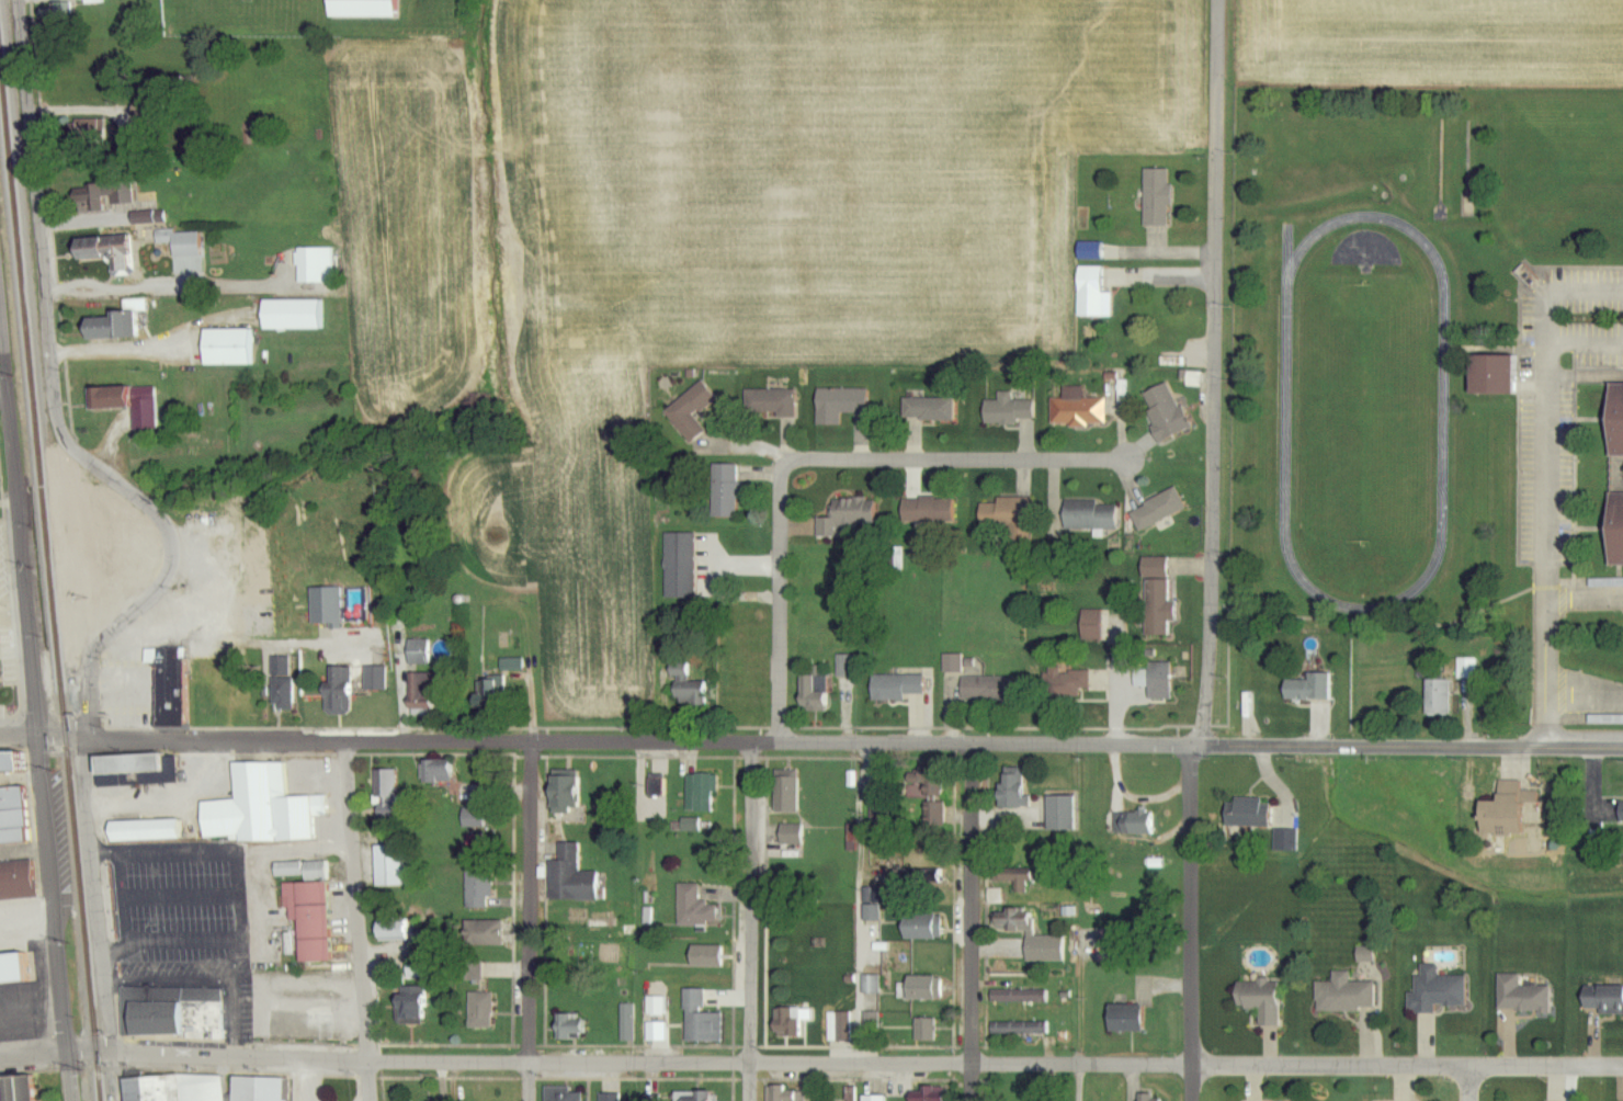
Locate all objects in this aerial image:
building: (357, 9)
building: (54, 15)
building: (120, 191)
building: (1156, 198)
building: (181, 245)
building: (120, 257)
building: (313, 266)
building: (1128, 280)
building: (1090, 295)
building: (1125, 325)
building: (114, 326)
building: (225, 348)
road: (1218, 371)
building: (1488, 375)
road: (3, 391)
building: (105, 397)
building: (837, 405)
road: (63, 406)
building: (1075, 408)
building: (1009, 410)
building: (1161, 413)
track: (1443, 415)
building: (1614, 421)
road: (972, 457)
road: (1548, 484)
building: (723, 496)
building: (1156, 510)
building: (1003, 513)
building: (843, 517)
building: (1089, 518)
building: (1613, 530)
building: (679, 566)
road: (780, 587)
building: (1156, 600)
railway: (49, 602)
building: (1089, 627)
road: (229, 640)
building: (418, 652)
building: (952, 663)
building: (844, 666)
building: (1157, 681)
building: (684, 685)
building: (339, 688)
building: (896, 688)
building: (988, 689)
building: (1306, 689)
building: (493, 691)
building: (225, 692)
building: (421, 694)
building: (280, 695)
road: (36, 704)
building: (167, 708)
road: (45, 734)
road: (781, 739)
road: (1546, 745)
building: (20, 761)
building: (137, 768)
building: (435, 775)
building: (1009, 788)
building: (556, 792)
building: (918, 792)
building: (700, 794)
building: (866, 805)
building: (259, 808)
building: (1620, 808)
building: (474, 810)
building: (1498, 811)
building: (1246, 814)
building: (1059, 815)
building: (15, 816)
building: (688, 826)
road: (296, 850)
building: (563, 852)
building: (387, 865)
building: (299, 870)
building: (1011, 873)
building: (565, 875)
building: (21, 881)
road: (238, 882)
building: (478, 888)
building: (994, 897)
building: (689, 903)
road: (98, 917)
road: (360, 918)
building: (307, 919)
road: (533, 919)
road: (750, 919)
road: (976, 921)
road: (1192, 921)
building: (1011, 926)
building: (916, 927)
building: (398, 931)
building: (1043, 949)
building: (703, 957)
building: (900, 961)
building: (21, 968)
road: (858, 974)
building: (869, 985)
building: (919, 989)
building: (1439, 994)
building: (1342, 995)
building: (1520, 995)
building: (1022, 996)
building: (1602, 999)
building: (1258, 1001)
building: (408, 1006)
building: (1122, 1019)
building: (697, 1020)
building: (867, 1021)
building: (626, 1023)
building: (566, 1026)
building: (1019, 1028)
building: (923, 1029)
building: (655, 1032)
building: (837, 1035)
road: (265, 1055)
road: (863, 1062)
road: (1409, 1062)
road: (302, 1079)
road: (1081, 1080)
road: (1467, 1081)
building: (21, 1089)
building: (149, 1089)
building: (253, 1089)
building: (782, 1094)
building: (928, 1096)
building: (560, 1097)
building: (693, 1097)
building: (871, 1099)

